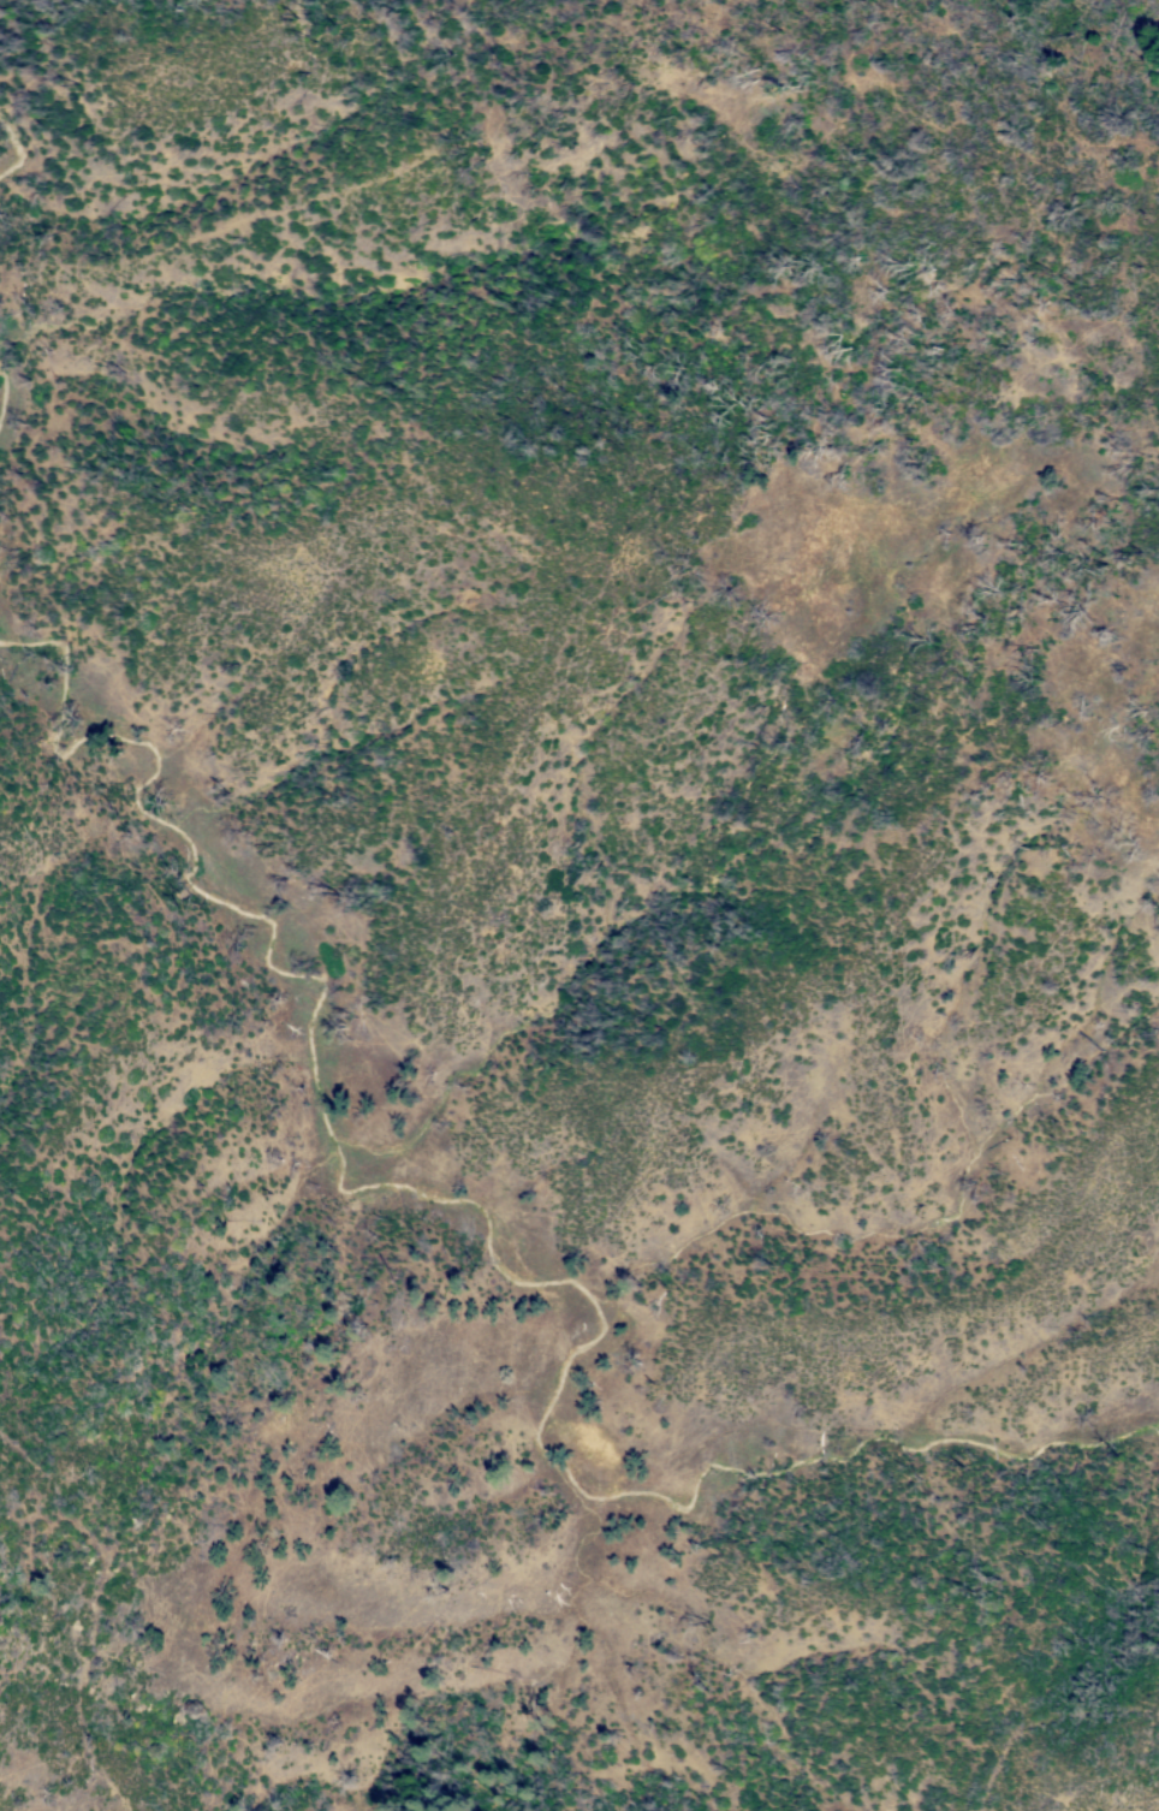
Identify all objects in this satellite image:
road: (1051, 1724)

